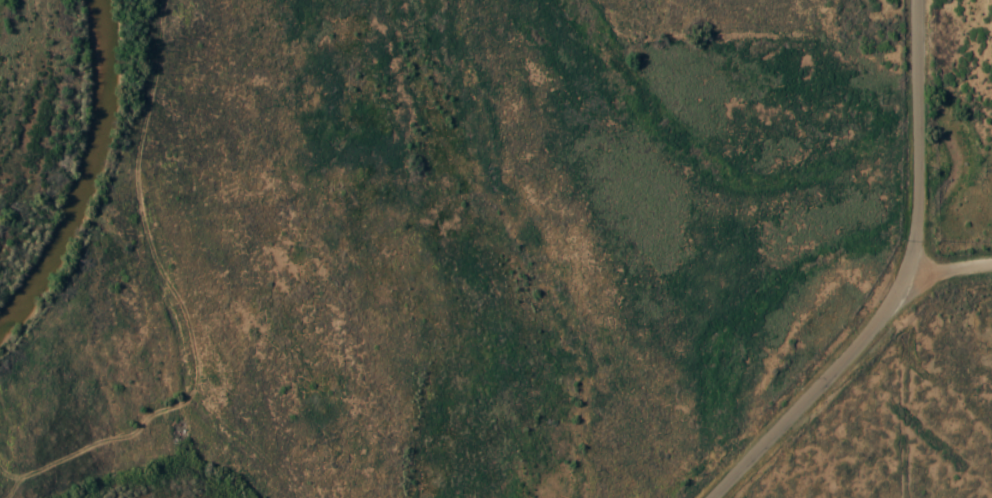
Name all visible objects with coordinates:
river: (84, 171)
road: (935, 275)
road: (897, 283)

